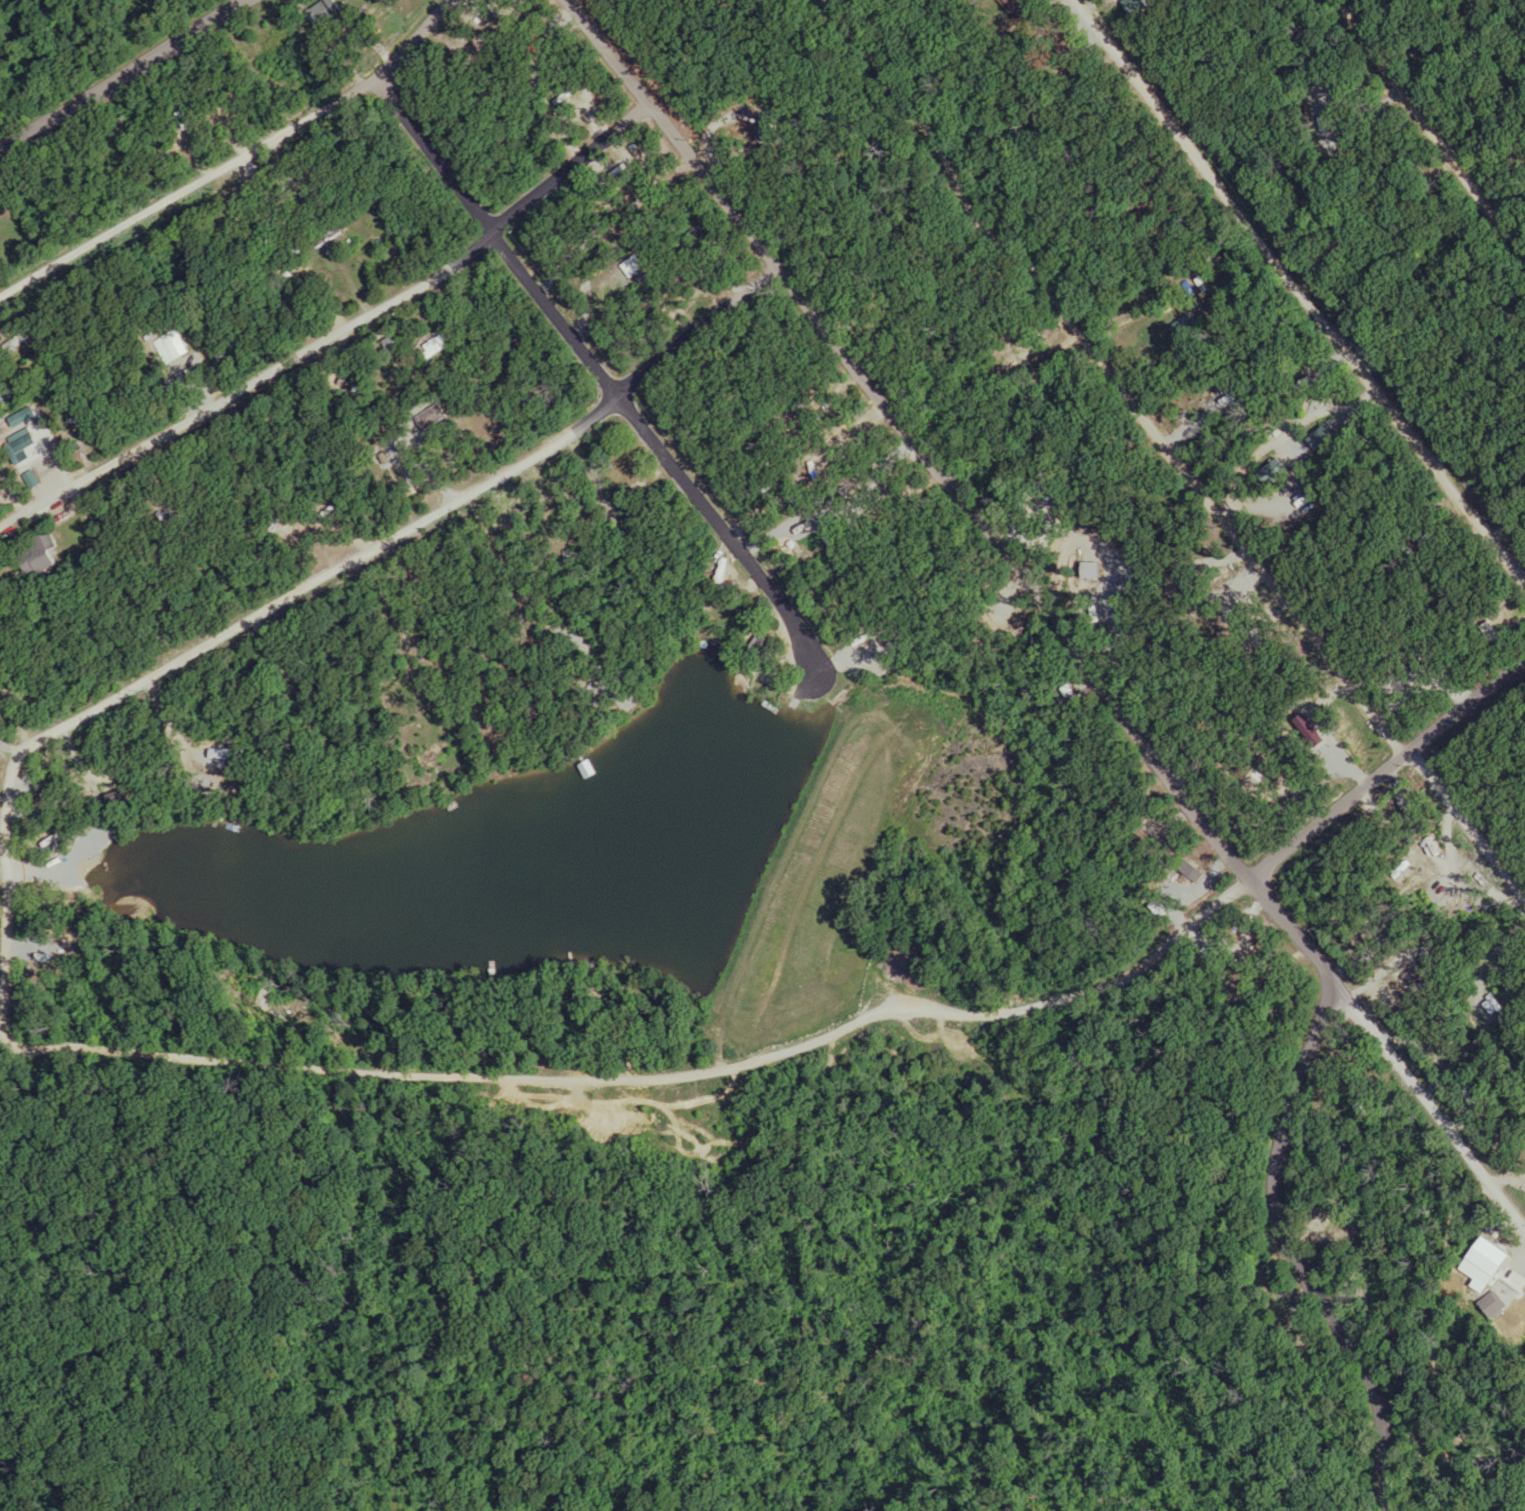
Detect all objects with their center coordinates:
building: (325, 12)
road: (412, 40)
road: (123, 80)
road: (1420, 129)
road: (188, 191)
road: (1301, 292)
road: (330, 328)
building: (435, 345)
road: (595, 373)
road: (1173, 453)
road: (949, 496)
road: (427, 521)
building: (46, 552)
road: (1386, 772)
road: (4, 872)
road: (1083, 997)
road: (449, 1074)
road: (1430, 1106)
road: (1331, 1262)

